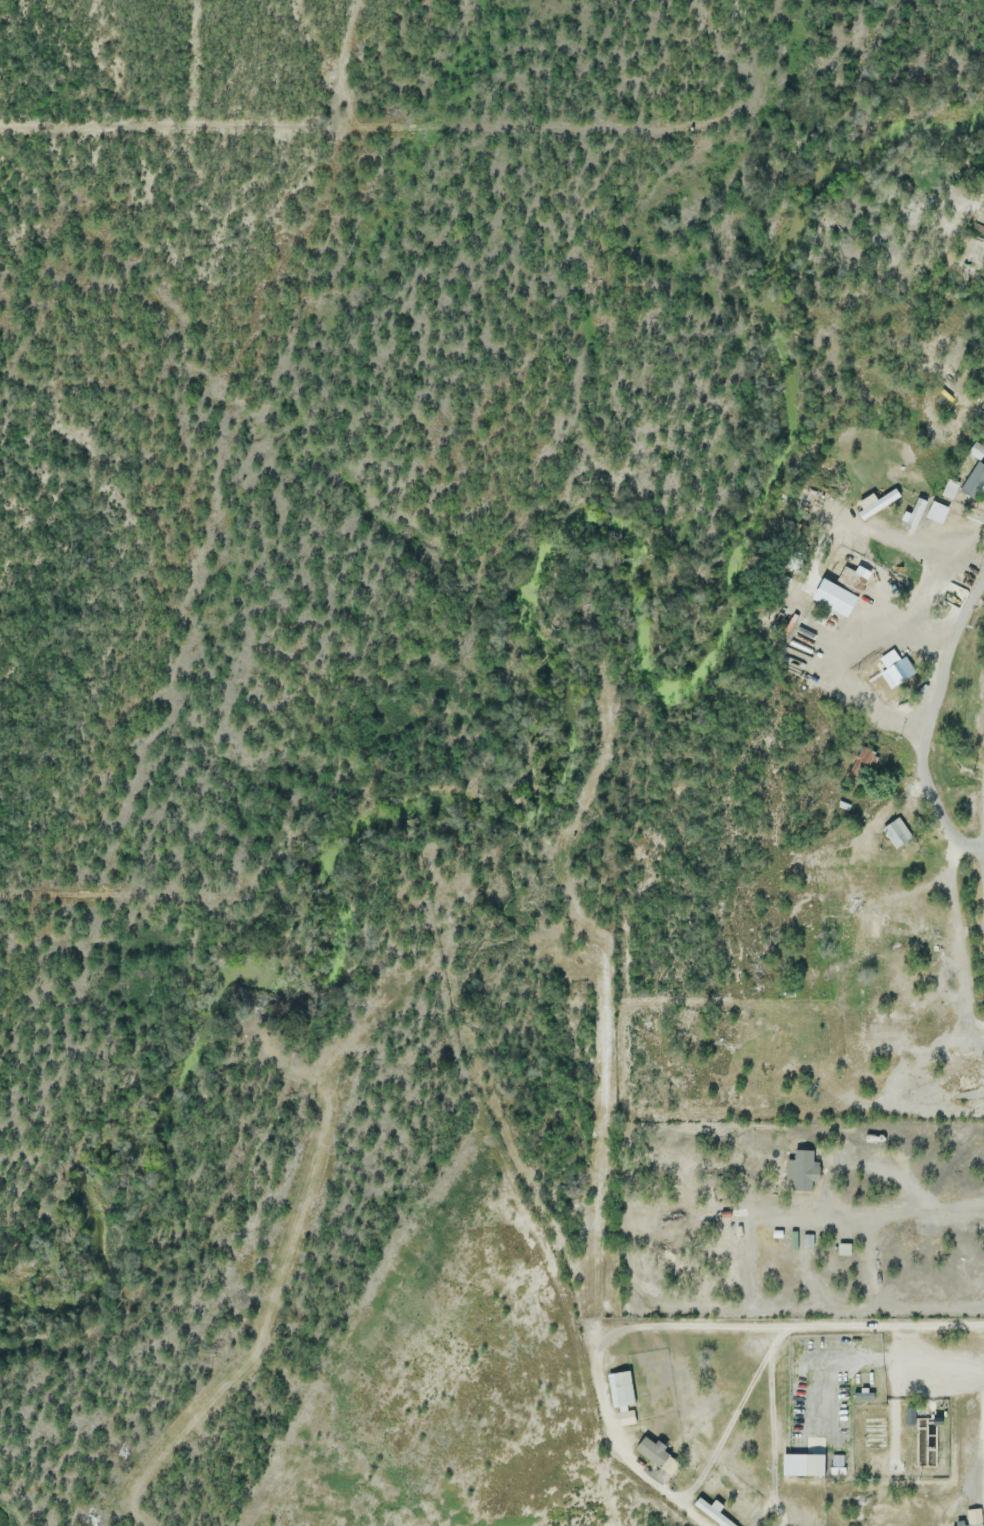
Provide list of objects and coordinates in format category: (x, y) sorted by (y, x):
building: (974, 480)
building: (950, 488)
building: (876, 502)
building: (937, 511)
building: (915, 514)
building: (846, 584)
building: (835, 596)
building: (895, 667)
river: (558, 698)
road: (931, 727)
building: (862, 761)
building: (897, 831)
building: (803, 1169)
road: (681, 1330)
building: (623, 1391)
building: (862, 1394)
building: (909, 1415)
wastewater plant: (901, 1439)
building: (651, 1450)
building: (803, 1464)
building: (839, 1464)
building: (715, 1514)
building: (975, 1525)

